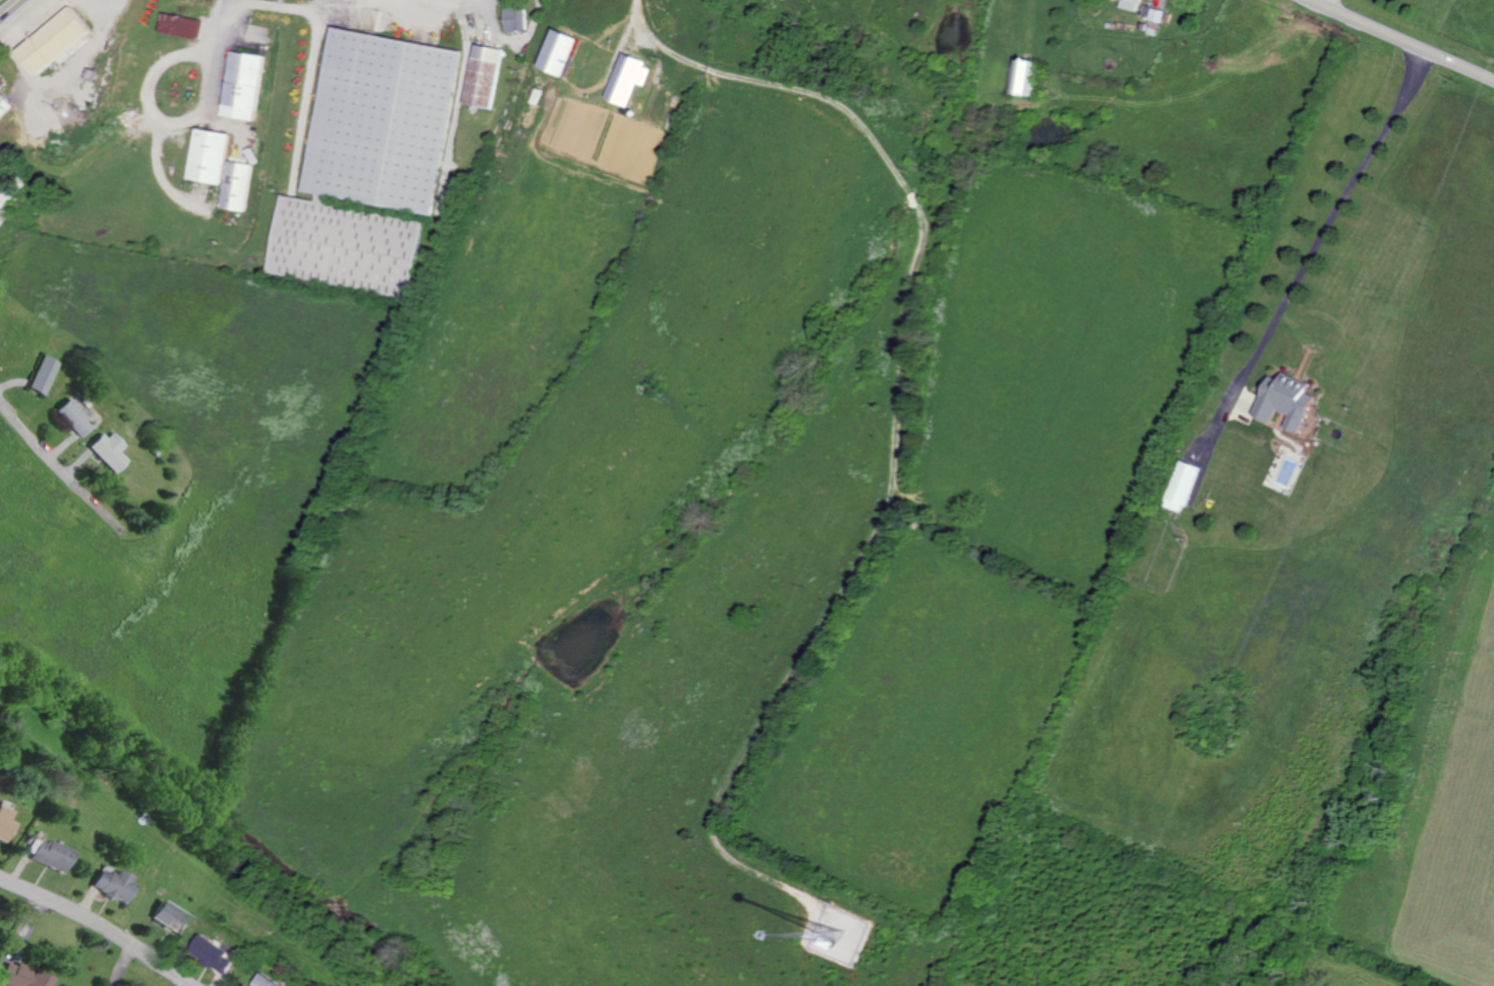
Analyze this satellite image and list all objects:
road: (354, 0)
road: (1326, 3)
building: (1130, 4)
road: (309, 6)
road: (10, 8)
road: (489, 11)
building: (1155, 14)
building: (513, 19)
road: (226, 21)
building: (180, 26)
flagpole: (40, 33)
building: (59, 38)
road: (1402, 40)
road: (652, 49)
building: (557, 53)
building: (482, 76)
building: (1022, 77)
building: (626, 79)
building: (3, 83)
building: (241, 86)
road: (305, 92)
road: (455, 100)
building: (5, 106)
road: (155, 112)
road: (1003, 132)
building: (206, 156)
road: (160, 173)
building: (234, 186)
building: (4, 195)
road: (1319, 235)
building: (41, 375)
building: (1284, 401)
building: (73, 417)
building: (108, 450)
road: (53, 459)
building: (1181, 486)
road: (885, 501)
building: (0, 823)
building: (41, 854)
building: (103, 883)
building: (160, 916)
road: (97, 929)
building: (215, 954)
building: (18, 976)
building: (269, 981)
building: (62, 985)

